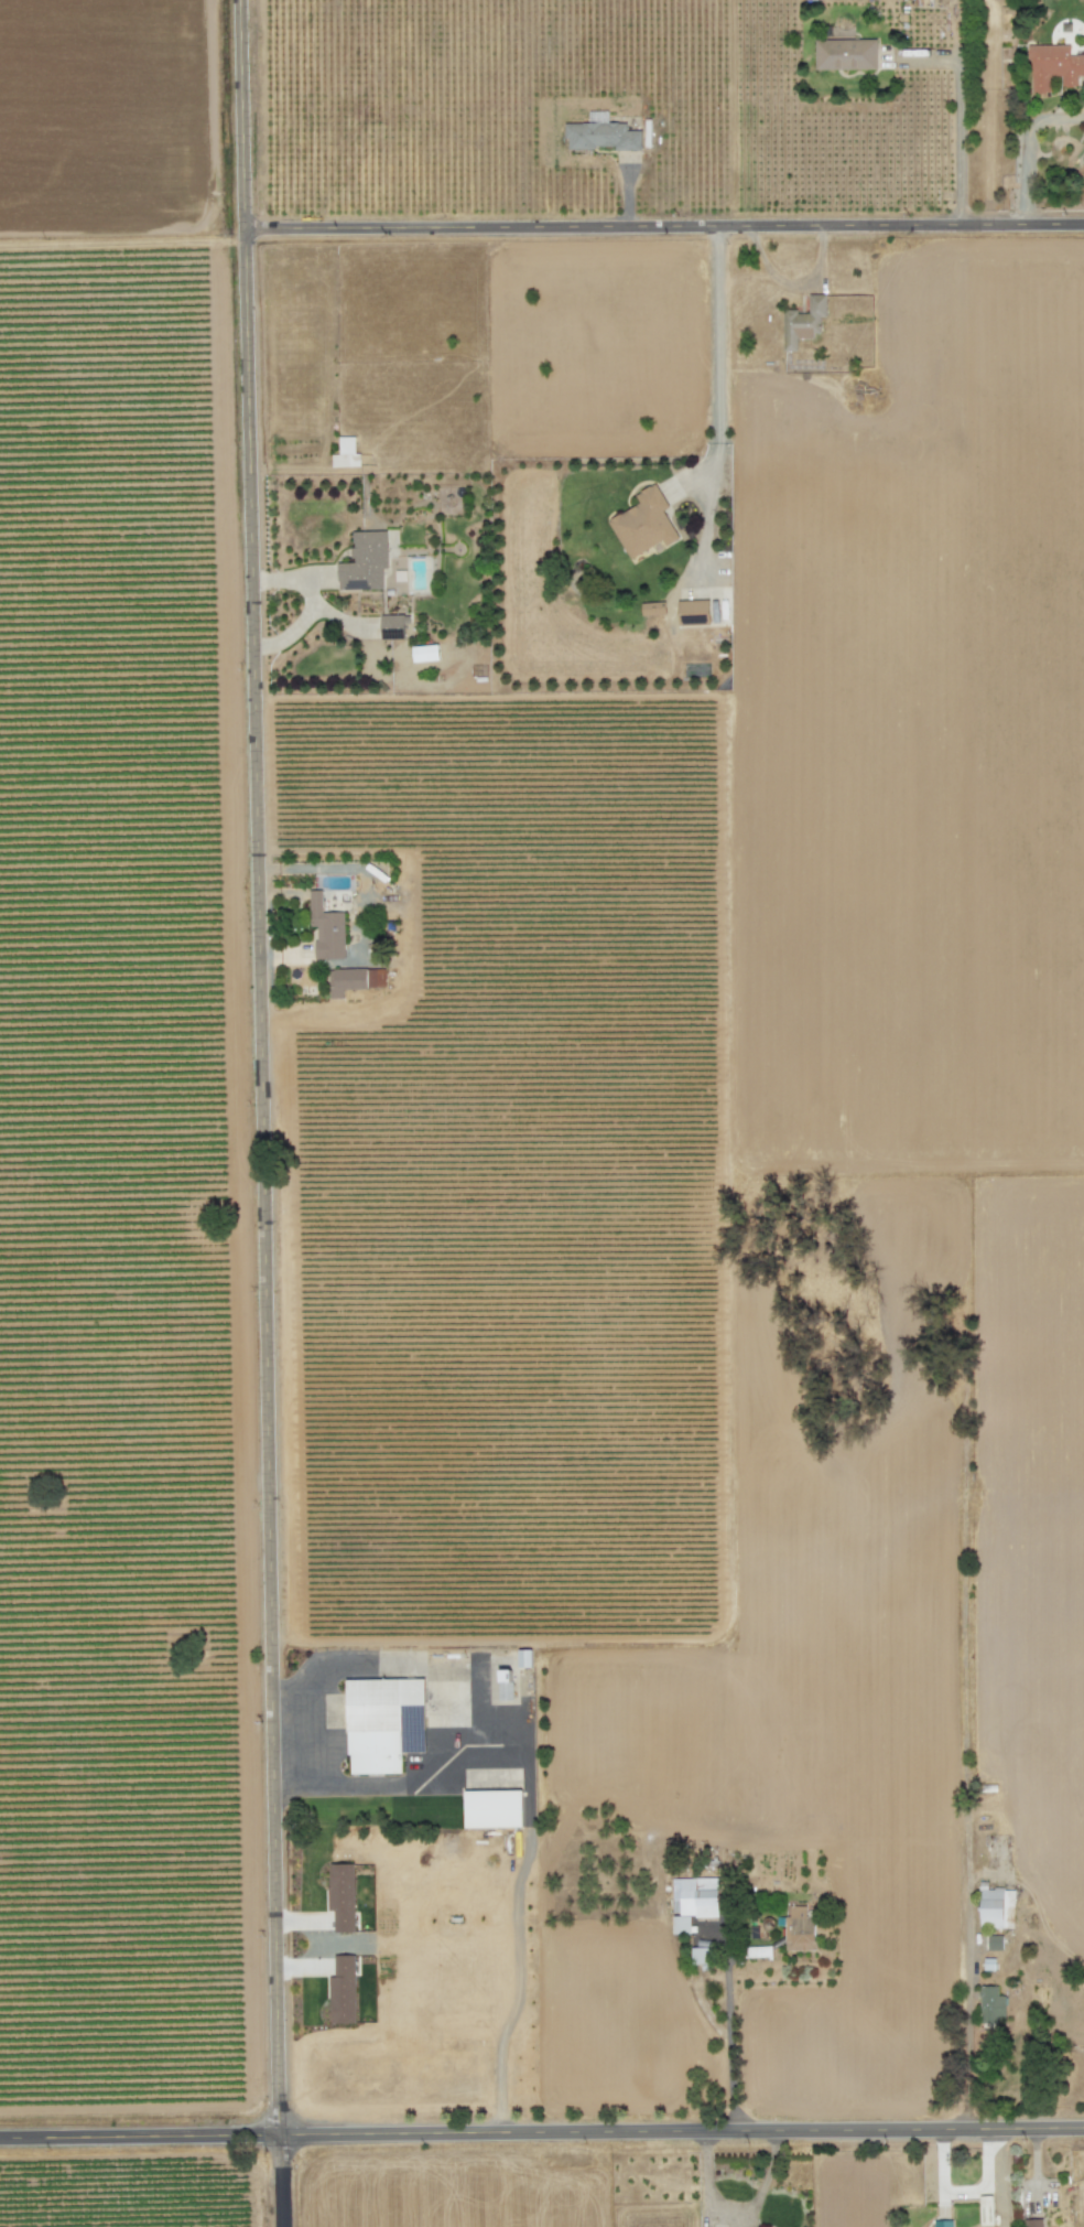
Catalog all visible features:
building: (846, 54)
building: (1053, 66)
road: (961, 117)
building: (601, 137)
road: (1030, 150)
road: (661, 228)
road: (119, 243)
building: (803, 322)
road: (715, 361)
building: (345, 453)
building: (643, 524)
building: (391, 540)
building: (365, 562)
road: (310, 602)
building: (652, 609)
building: (693, 612)
building: (392, 626)
building: (425, 653)
building: (325, 928)
building: (354, 980)
road: (258, 1112)
building: (524, 1658)
building: (503, 1683)
building: (383, 1723)
building: (492, 1809)
building: (342, 1896)
building: (693, 1901)
building: (996, 1907)
road: (968, 1918)
building: (800, 1928)
building: (996, 1943)
building: (700, 1956)
road: (517, 1979)
building: (343, 1989)
building: (991, 2005)
road: (727, 2037)
road: (541, 2132)
building: (987, 2210)
building: (1034, 2223)
building: (943, 2224)

